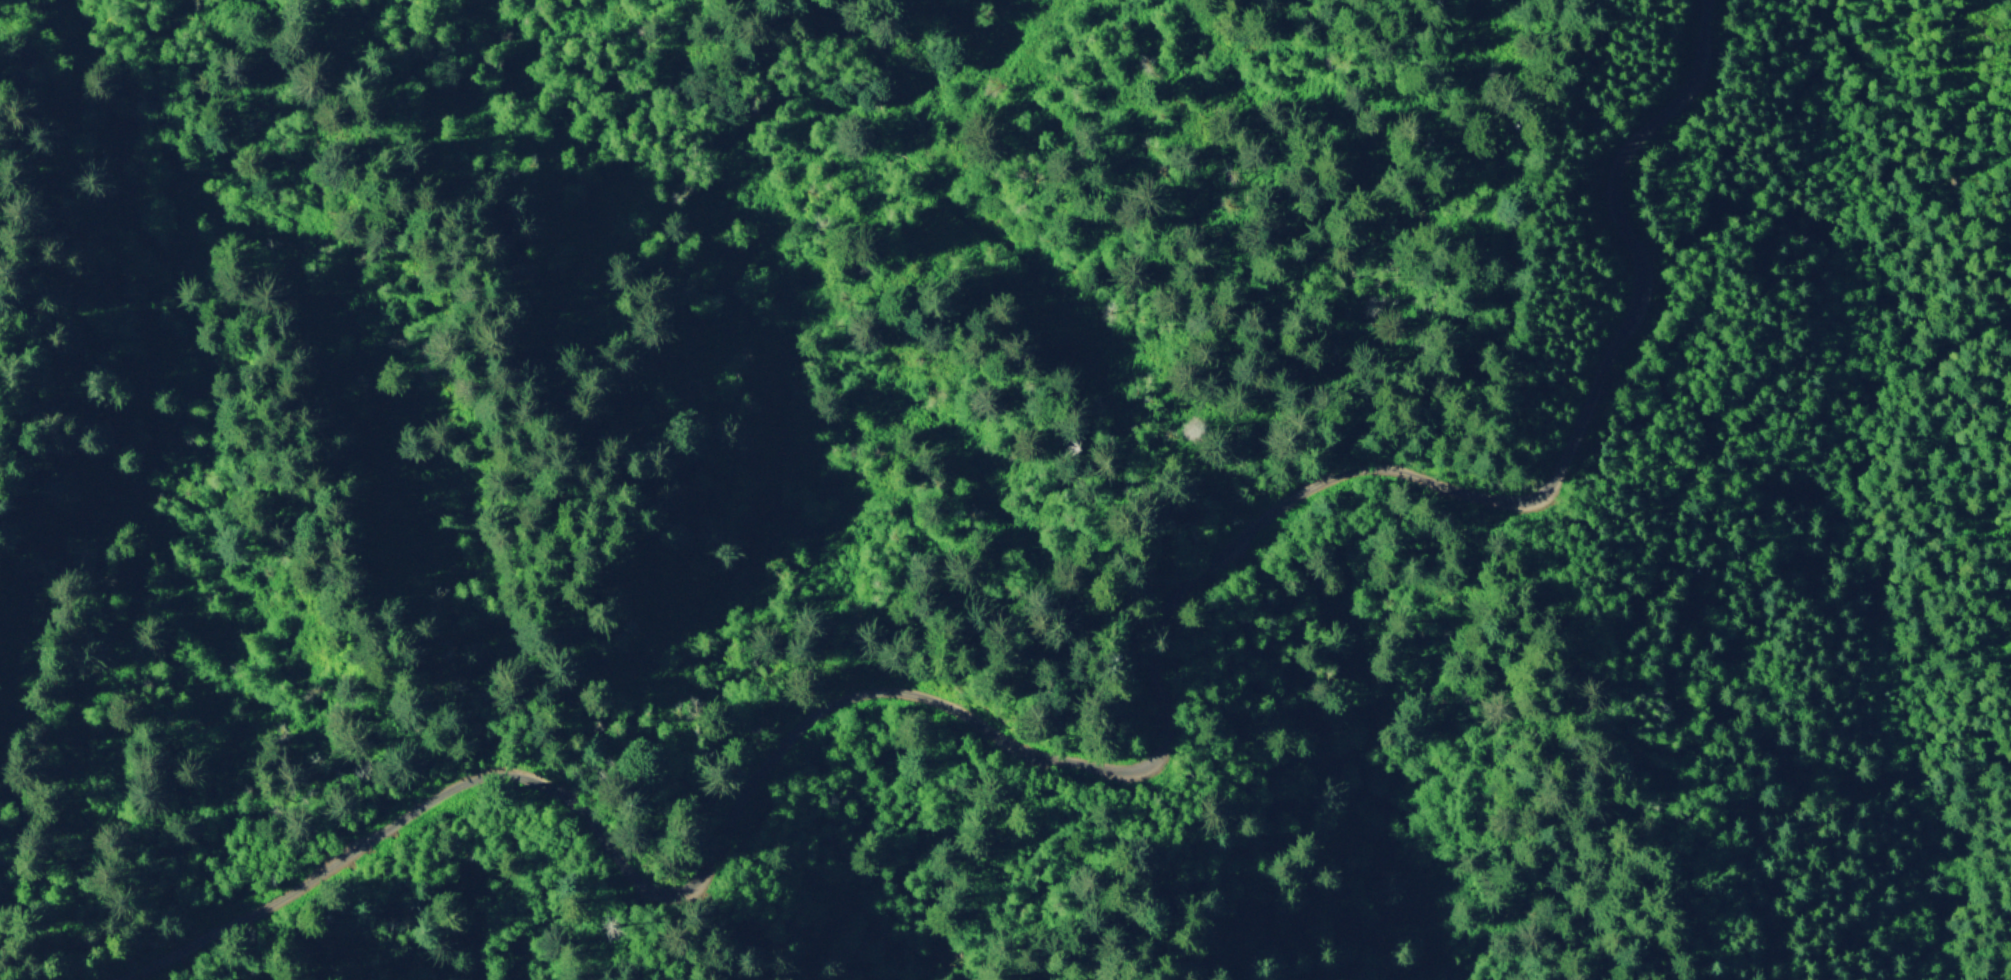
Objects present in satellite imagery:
road: (1094, 772)

